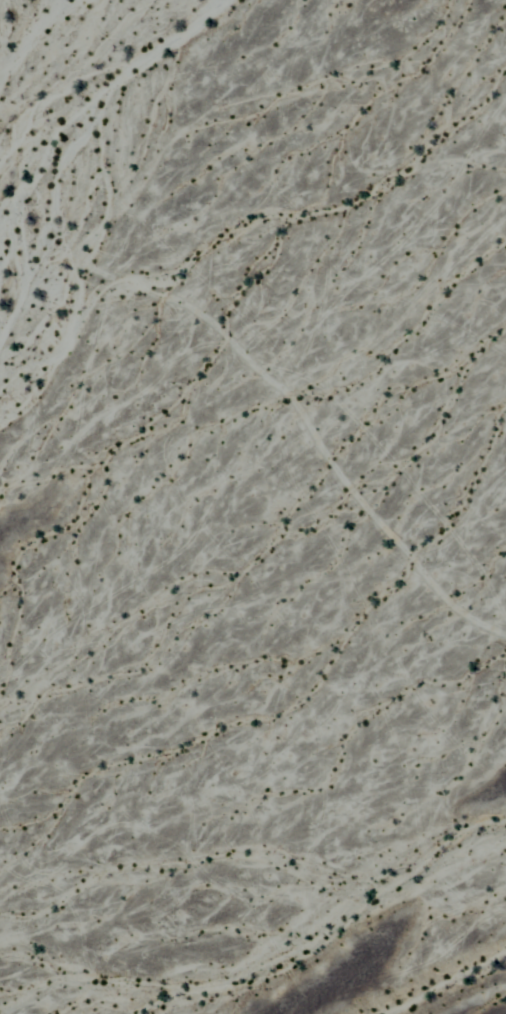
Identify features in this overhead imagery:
road: (286, 394)

